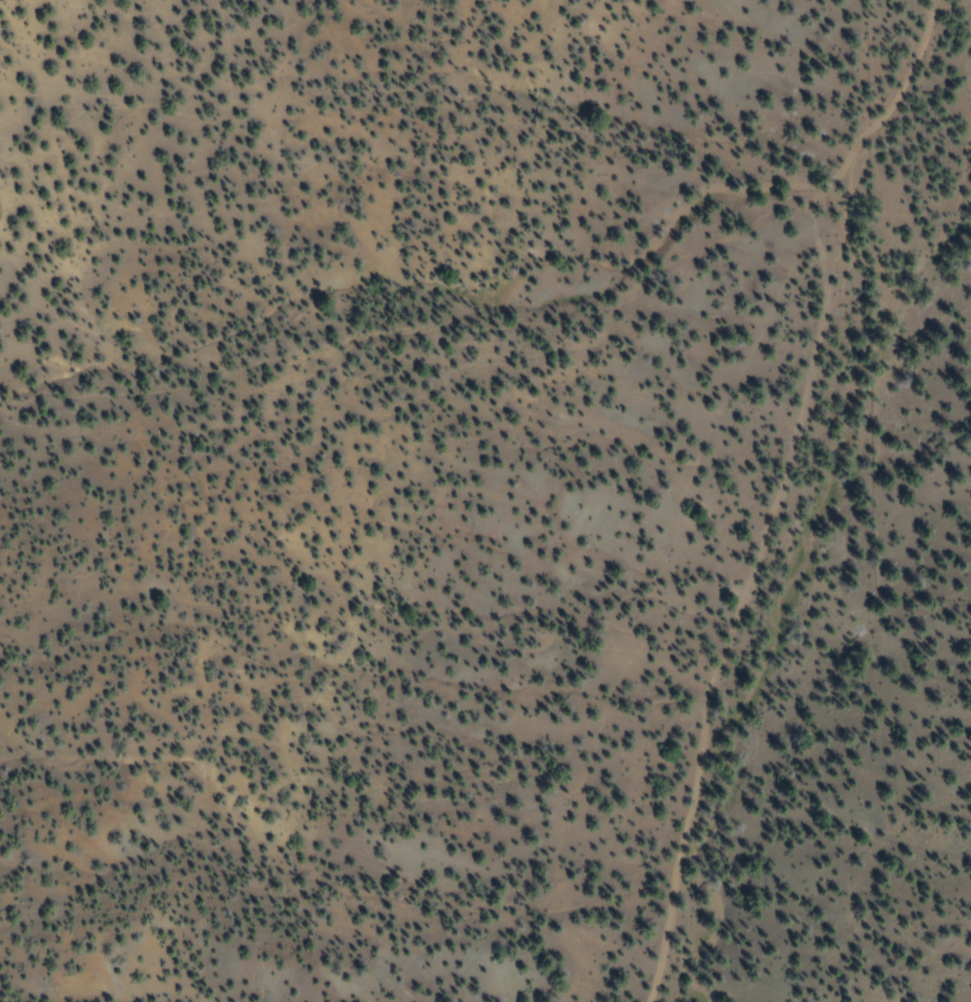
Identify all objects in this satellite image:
road: (764, 497)

